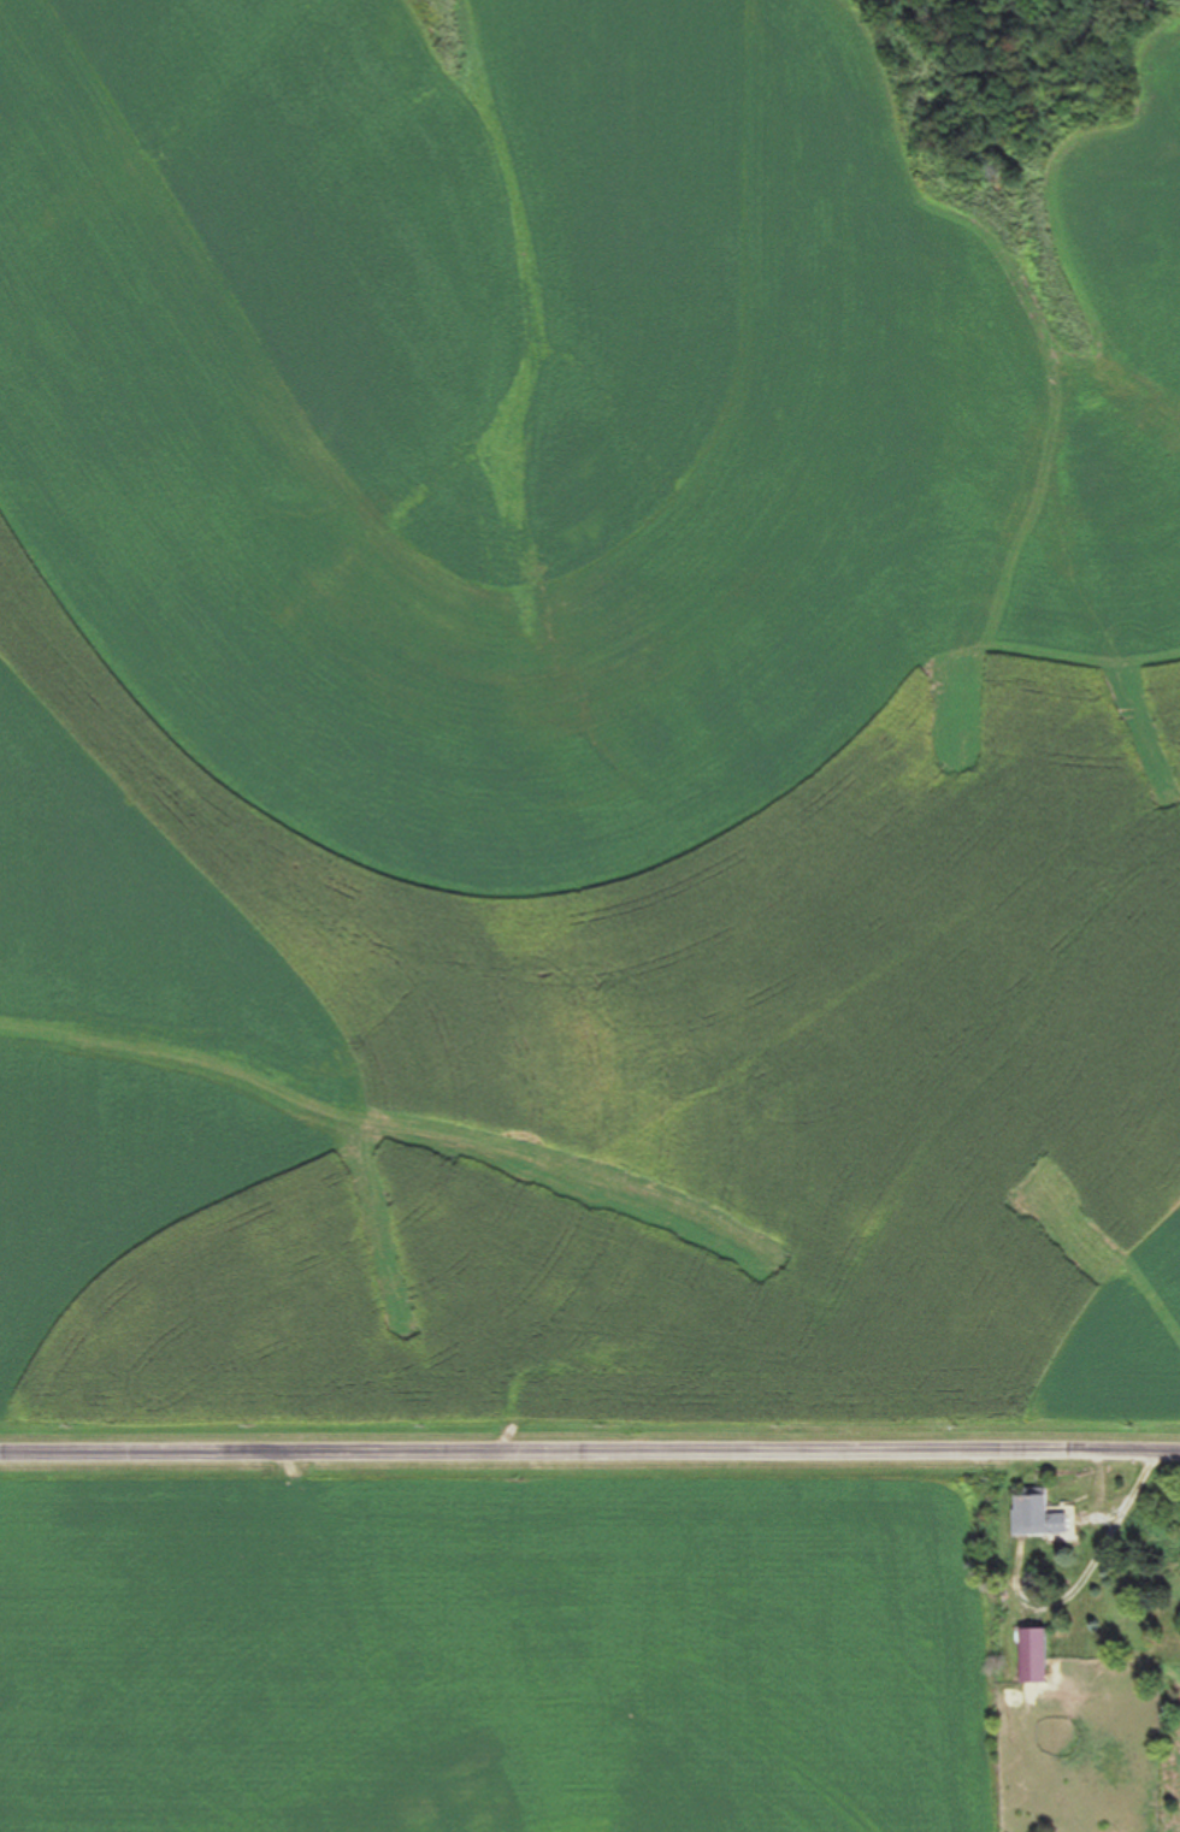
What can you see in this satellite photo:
road: (590, 1432)
building: (1032, 1514)
building: (1042, 1655)

